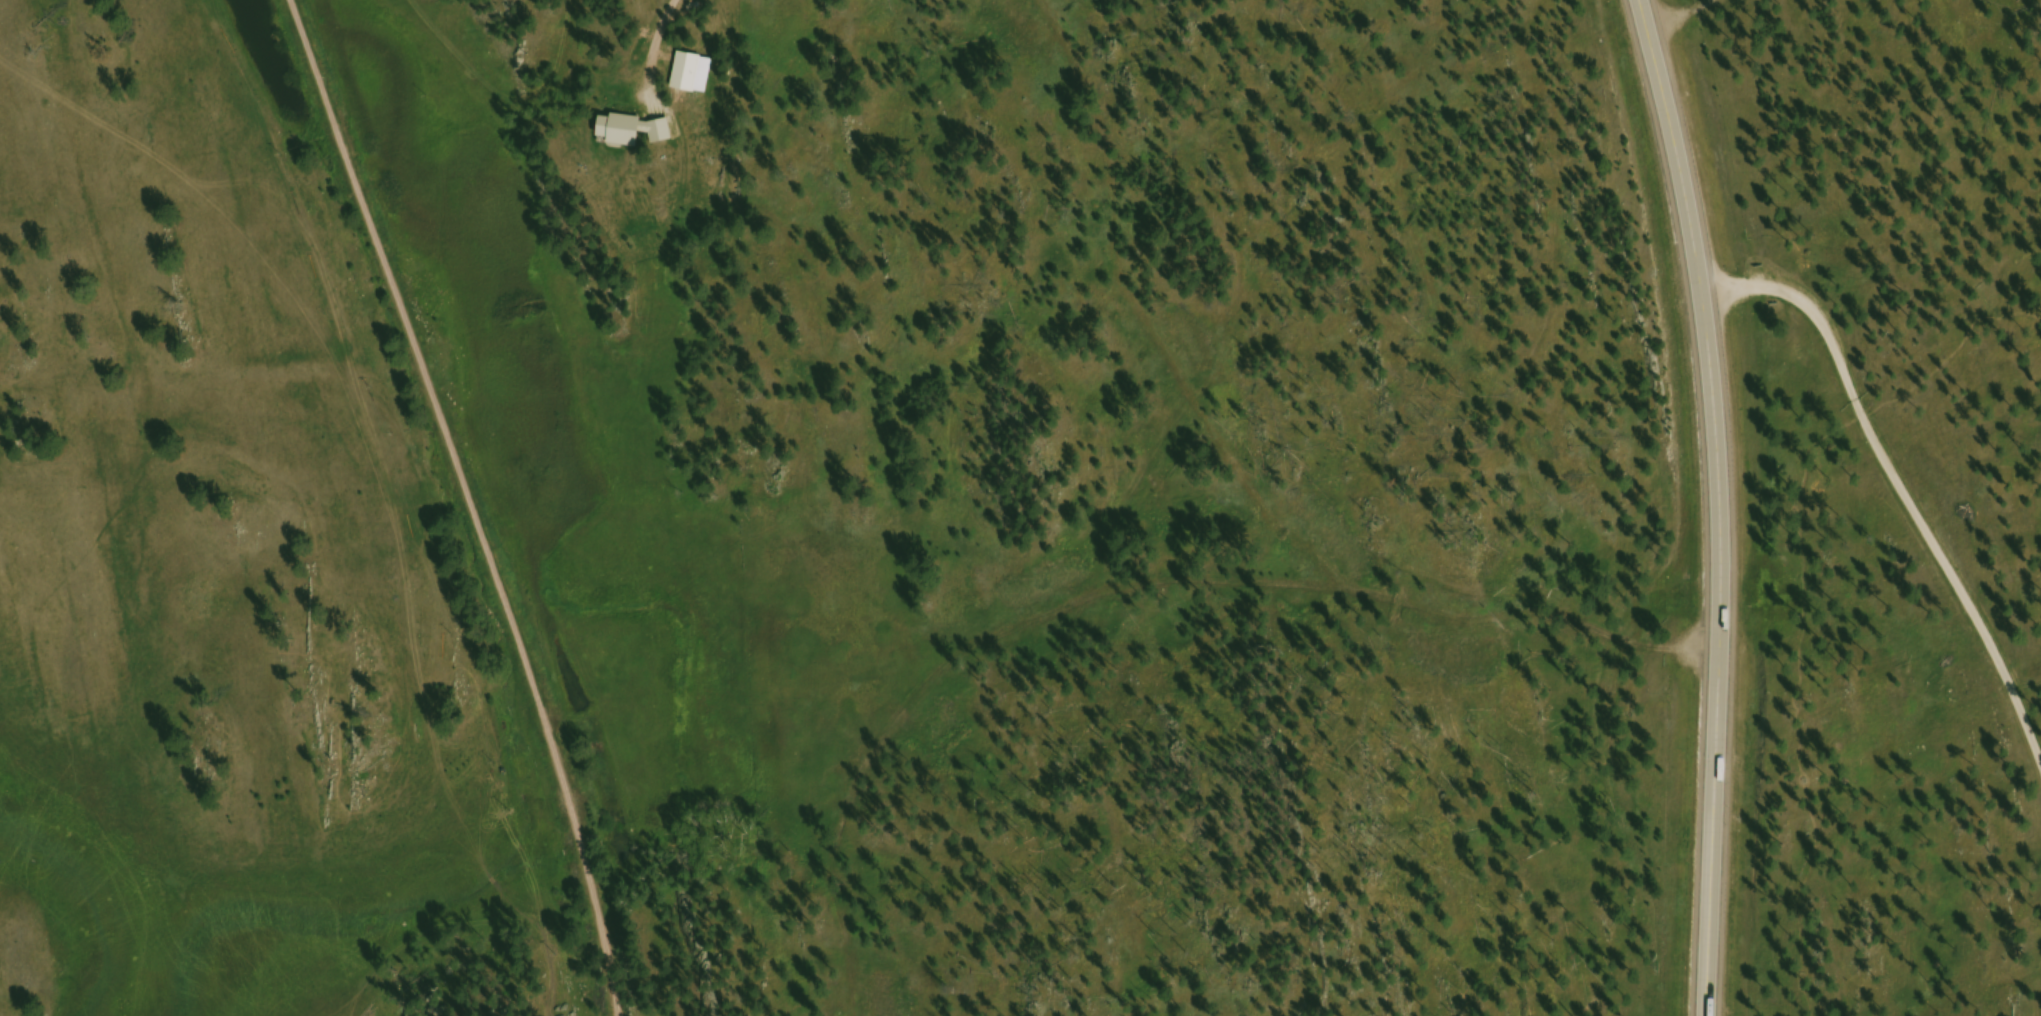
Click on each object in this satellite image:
road: (669, 12)
building: (634, 131)
road: (1896, 487)
road: (1717, 504)
road: (476, 505)

